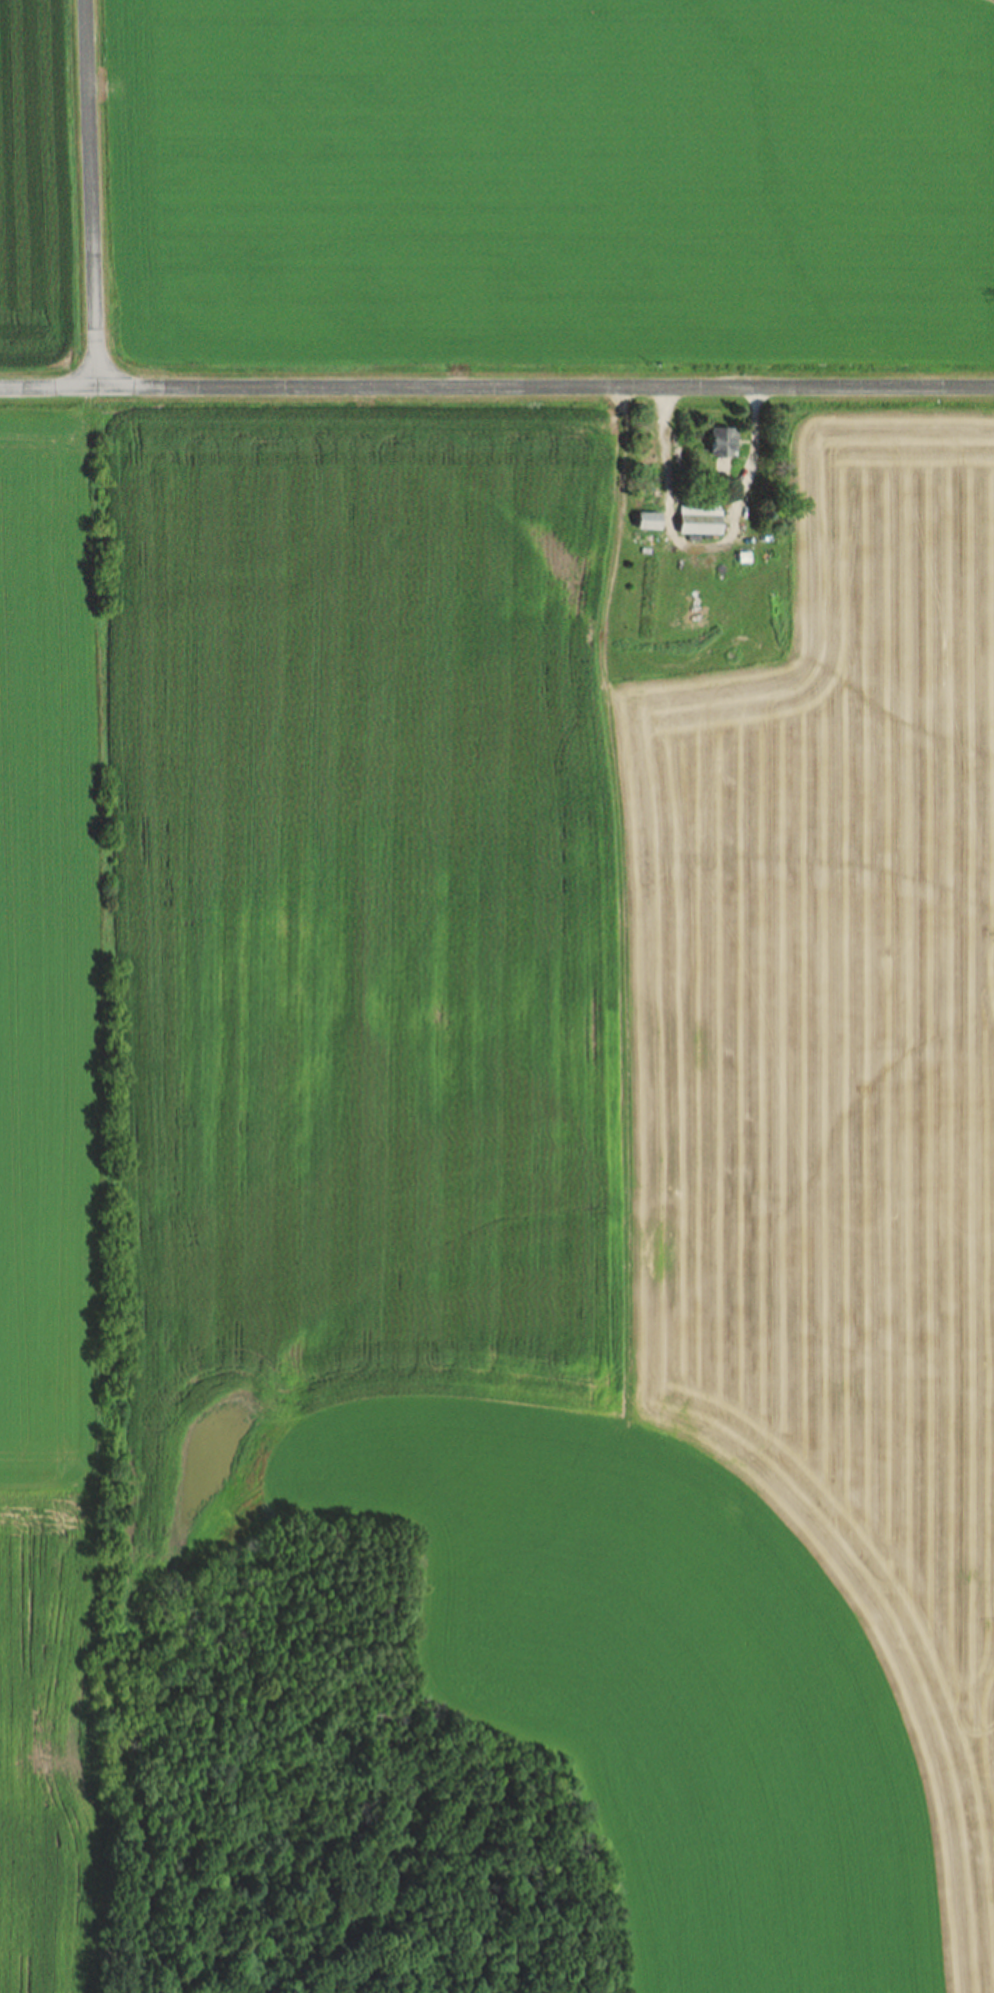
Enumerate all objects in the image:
road: (88, 194)
road: (497, 388)
building: (723, 443)
road: (665, 481)
building: (700, 521)
building: (651, 522)
road: (678, 548)

